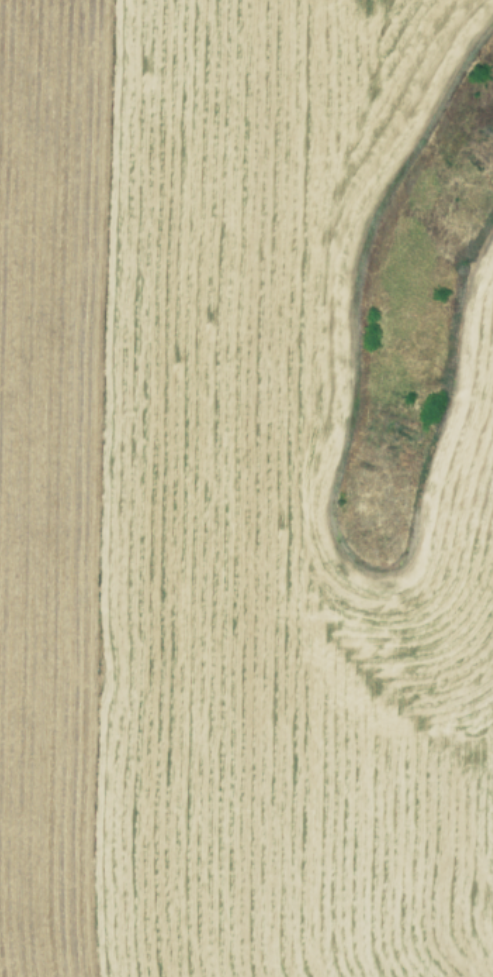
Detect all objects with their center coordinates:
crop: (246, 488)

